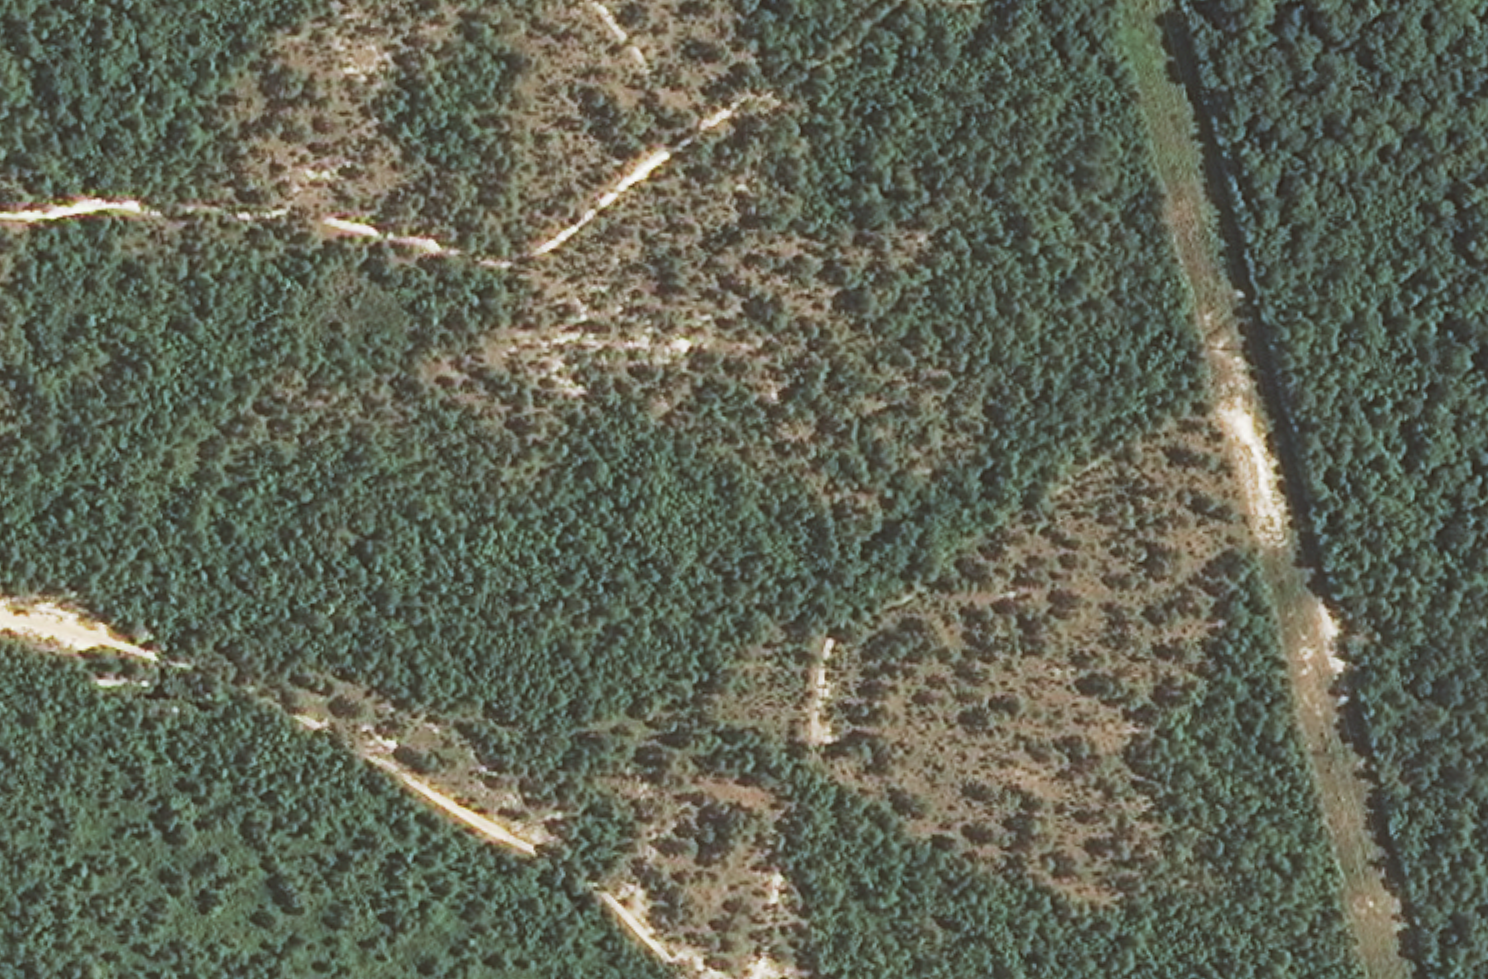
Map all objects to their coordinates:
road: (963, 2)
road: (807, 67)
power tower: (1231, 351)
power tower: (1336, 757)
road: (347, 770)
road: (794, 815)

